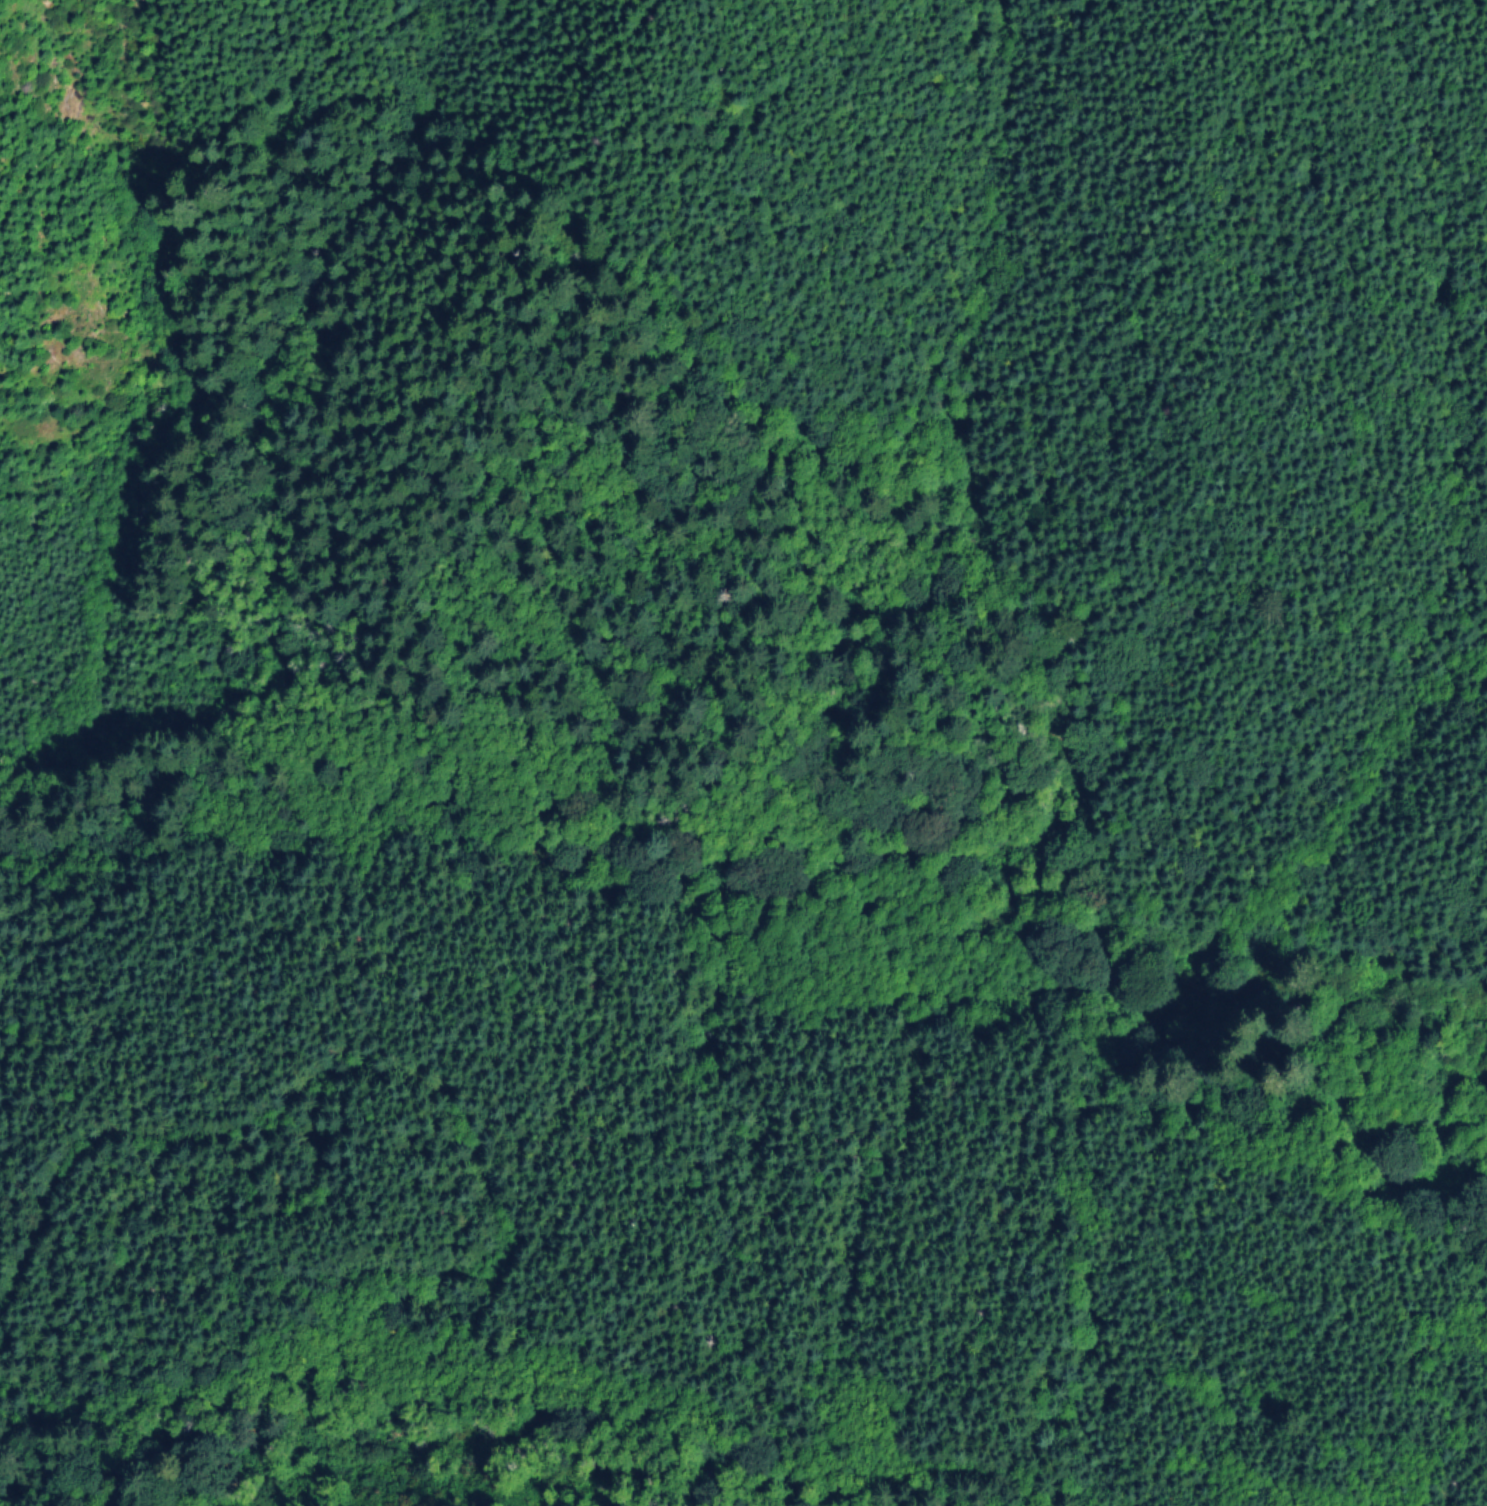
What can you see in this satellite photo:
road: (410, 1400)

